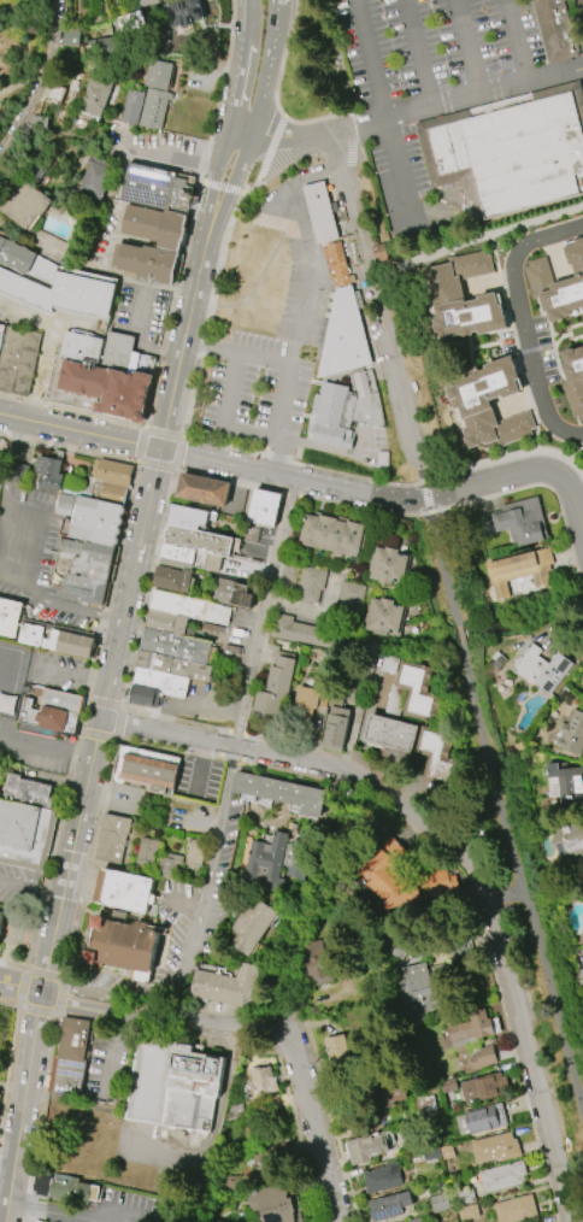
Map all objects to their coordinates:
building: (143, 2)
building: (184, 12)
building: (125, 20)
road: (251, 29)
building: (553, 29)
building: (71, 37)
road: (519, 41)
building: (98, 43)
parking lot: (431, 46)
road: (470, 47)
road: (335, 48)
road: (418, 54)
road: (272, 67)
building: (158, 75)
road: (37, 80)
road: (223, 92)
road: (241, 93)
road: (279, 93)
building: (94, 95)
building: (130, 106)
building: (152, 107)
road: (420, 111)
road: (385, 117)
road: (246, 130)
road: (351, 139)
parking lot: (153, 140)
road: (270, 145)
road: (335, 151)
building: (510, 151)
road: (159, 153)
parking lot: (399, 165)
road: (285, 166)
road: (314, 172)
road: (348, 175)
road: (344, 176)
building: (94, 180)
road: (253, 186)
building: (158, 188)
road: (224, 188)
building: (23, 201)
road: (211, 201)
road: (226, 205)
building: (319, 212)
building: (154, 225)
road: (476, 237)
road: (337, 240)
road: (494, 251)
building: (378, 252)
building: (16, 255)
building: (147, 262)
parking lot: (294, 265)
building: (335, 265)
building: (554, 268)
road: (264, 269)
road: (311, 276)
building: (559, 283)
building: (63, 293)
building: (461, 298)
road: (176, 305)
parking lot: (143, 310)
road: (212, 313)
road: (522, 315)
road: (232, 324)
road: (384, 328)
building: (0, 335)
road: (269, 335)
building: (343, 336)
road: (147, 345)
road: (47, 347)
road: (212, 348)
building: (18, 357)
road: (263, 359)
building: (98, 376)
building: (573, 378)
parking lot: (259, 386)
road: (284, 386)
road: (529, 399)
building: (489, 404)
building: (343, 410)
road: (73, 411)
road: (224, 421)
road: (276, 424)
road: (166, 431)
road: (145, 445)
road: (70, 447)
road: (573, 448)
traffic signals: (163, 451)
road: (182, 452)
road: (506, 457)
road: (281, 458)
building: (1, 462)
road: (159, 464)
road: (304, 464)
building: (48, 471)
road: (266, 471)
building: (20, 472)
building: (113, 472)
road: (535, 484)
building: (202, 489)
road: (570, 489)
building: (113, 493)
road: (426, 494)
road: (304, 495)
building: (264, 507)
building: (189, 516)
building: (96, 521)
building: (518, 522)
building: (330, 534)
building: (199, 540)
road: (13, 554)
parking lot: (35, 556)
building: (189, 558)
building: (94, 560)
building: (389, 565)
road: (441, 568)
building: (518, 570)
road: (116, 581)
road: (581, 581)
building: (311, 583)
building: (202, 584)
road: (151, 587)
building: (86, 589)
building: (351, 597)
building: (189, 606)
road: (267, 613)
building: (384, 616)
building: (10, 617)
building: (165, 622)
road: (458, 630)
building: (302, 631)
building: (55, 640)
building: (175, 646)
building: (173, 665)
building: (541, 669)
parking lot: (59, 671)
road: (76, 672)
building: (275, 686)
building: (155, 687)
building: (411, 693)
building: (60, 700)
road: (106, 704)
road: (195, 706)
building: (304, 715)
road: (87, 716)
building: (48, 717)
road: (118, 723)
building: (335, 728)
building: (390, 734)
building: (572, 734)
road: (99, 736)
road: (260, 736)
road: (36, 739)
road: (155, 746)
road: (84, 748)
road: (95, 748)
parking lot: (33, 750)
road: (201, 753)
road: (216, 757)
building: (436, 757)
road: (230, 758)
road: (312, 760)
building: (145, 769)
road: (200, 769)
road: (295, 771)
road: (55, 779)
building: (567, 783)
building: (33, 791)
road: (363, 791)
building: (281, 792)
road: (107, 794)
road: (428, 795)
parking lot: (128, 801)
road: (388, 809)
road: (204, 822)
road: (458, 827)
building: (24, 835)
building: (112, 838)
building: (567, 838)
road: (55, 851)
building: (171, 857)
building: (277, 858)
road: (89, 859)
building: (390, 874)
road: (520, 877)
building: (438, 882)
building: (122, 889)
road: (31, 892)
road: (507, 898)
road: (184, 901)
building: (1, 921)
building: (251, 927)
road: (198, 934)
road: (7, 940)
building: (457, 941)
building: (124, 946)
building: (322, 962)
road: (14, 967)
road: (46, 975)
building: (226, 985)
road: (24, 988)
building: (416, 994)
road: (60, 995)
road: (10, 1004)
road: (153, 1007)
road: (500, 1007)
road: (39, 1010)
road: (119, 1012)
road: (114, 1017)
road: (87, 1018)
road: (258, 1021)
road: (160, 1022)
building: (471, 1024)
road: (254, 1027)
road: (181, 1028)
road: (214, 1028)
road: (238, 1028)
road: (271, 1028)
road: (266, 1029)
road: (249, 1030)
road: (265, 1033)
road: (279, 1035)
road: (301, 1038)
road: (276, 1044)
road: (528, 1048)
building: (337, 1051)
road: (114, 1052)
road: (101, 1054)
building: (482, 1057)
road: (10, 1067)
parking lot: (105, 1071)
building: (69, 1073)
building: (261, 1082)
road: (284, 1082)
building: (172, 1085)
building: (483, 1087)
building: (377, 1092)
road: (328, 1108)
building: (235, 1111)
road: (40, 1117)
building: (479, 1120)
road: (214, 1128)
road: (314, 1130)
parking lot: (164, 1147)
building: (366, 1147)
building: (494, 1147)
building: (255, 1152)
building: (431, 1155)
road: (305, 1165)
road: (7, 1169)
building: (501, 1176)
building: (382, 1177)
building: (64, 1186)
building: (464, 1197)
building: (438, 1202)
building: (273, 1203)
building: (388, 1205)
parking lot: (123, 1206)
building: (513, 1209)
road: (125, 1210)
road: (57, 1211)
building: (467, 1212)
road: (4, 1216)
building: (417, 1221)

